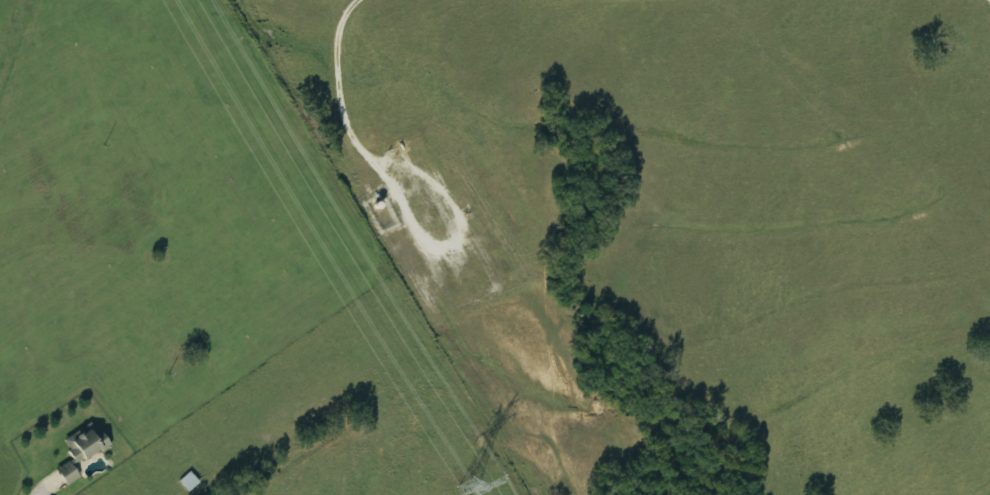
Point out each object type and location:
building: (86, 446)
building: (66, 474)
power tower: (463, 486)

